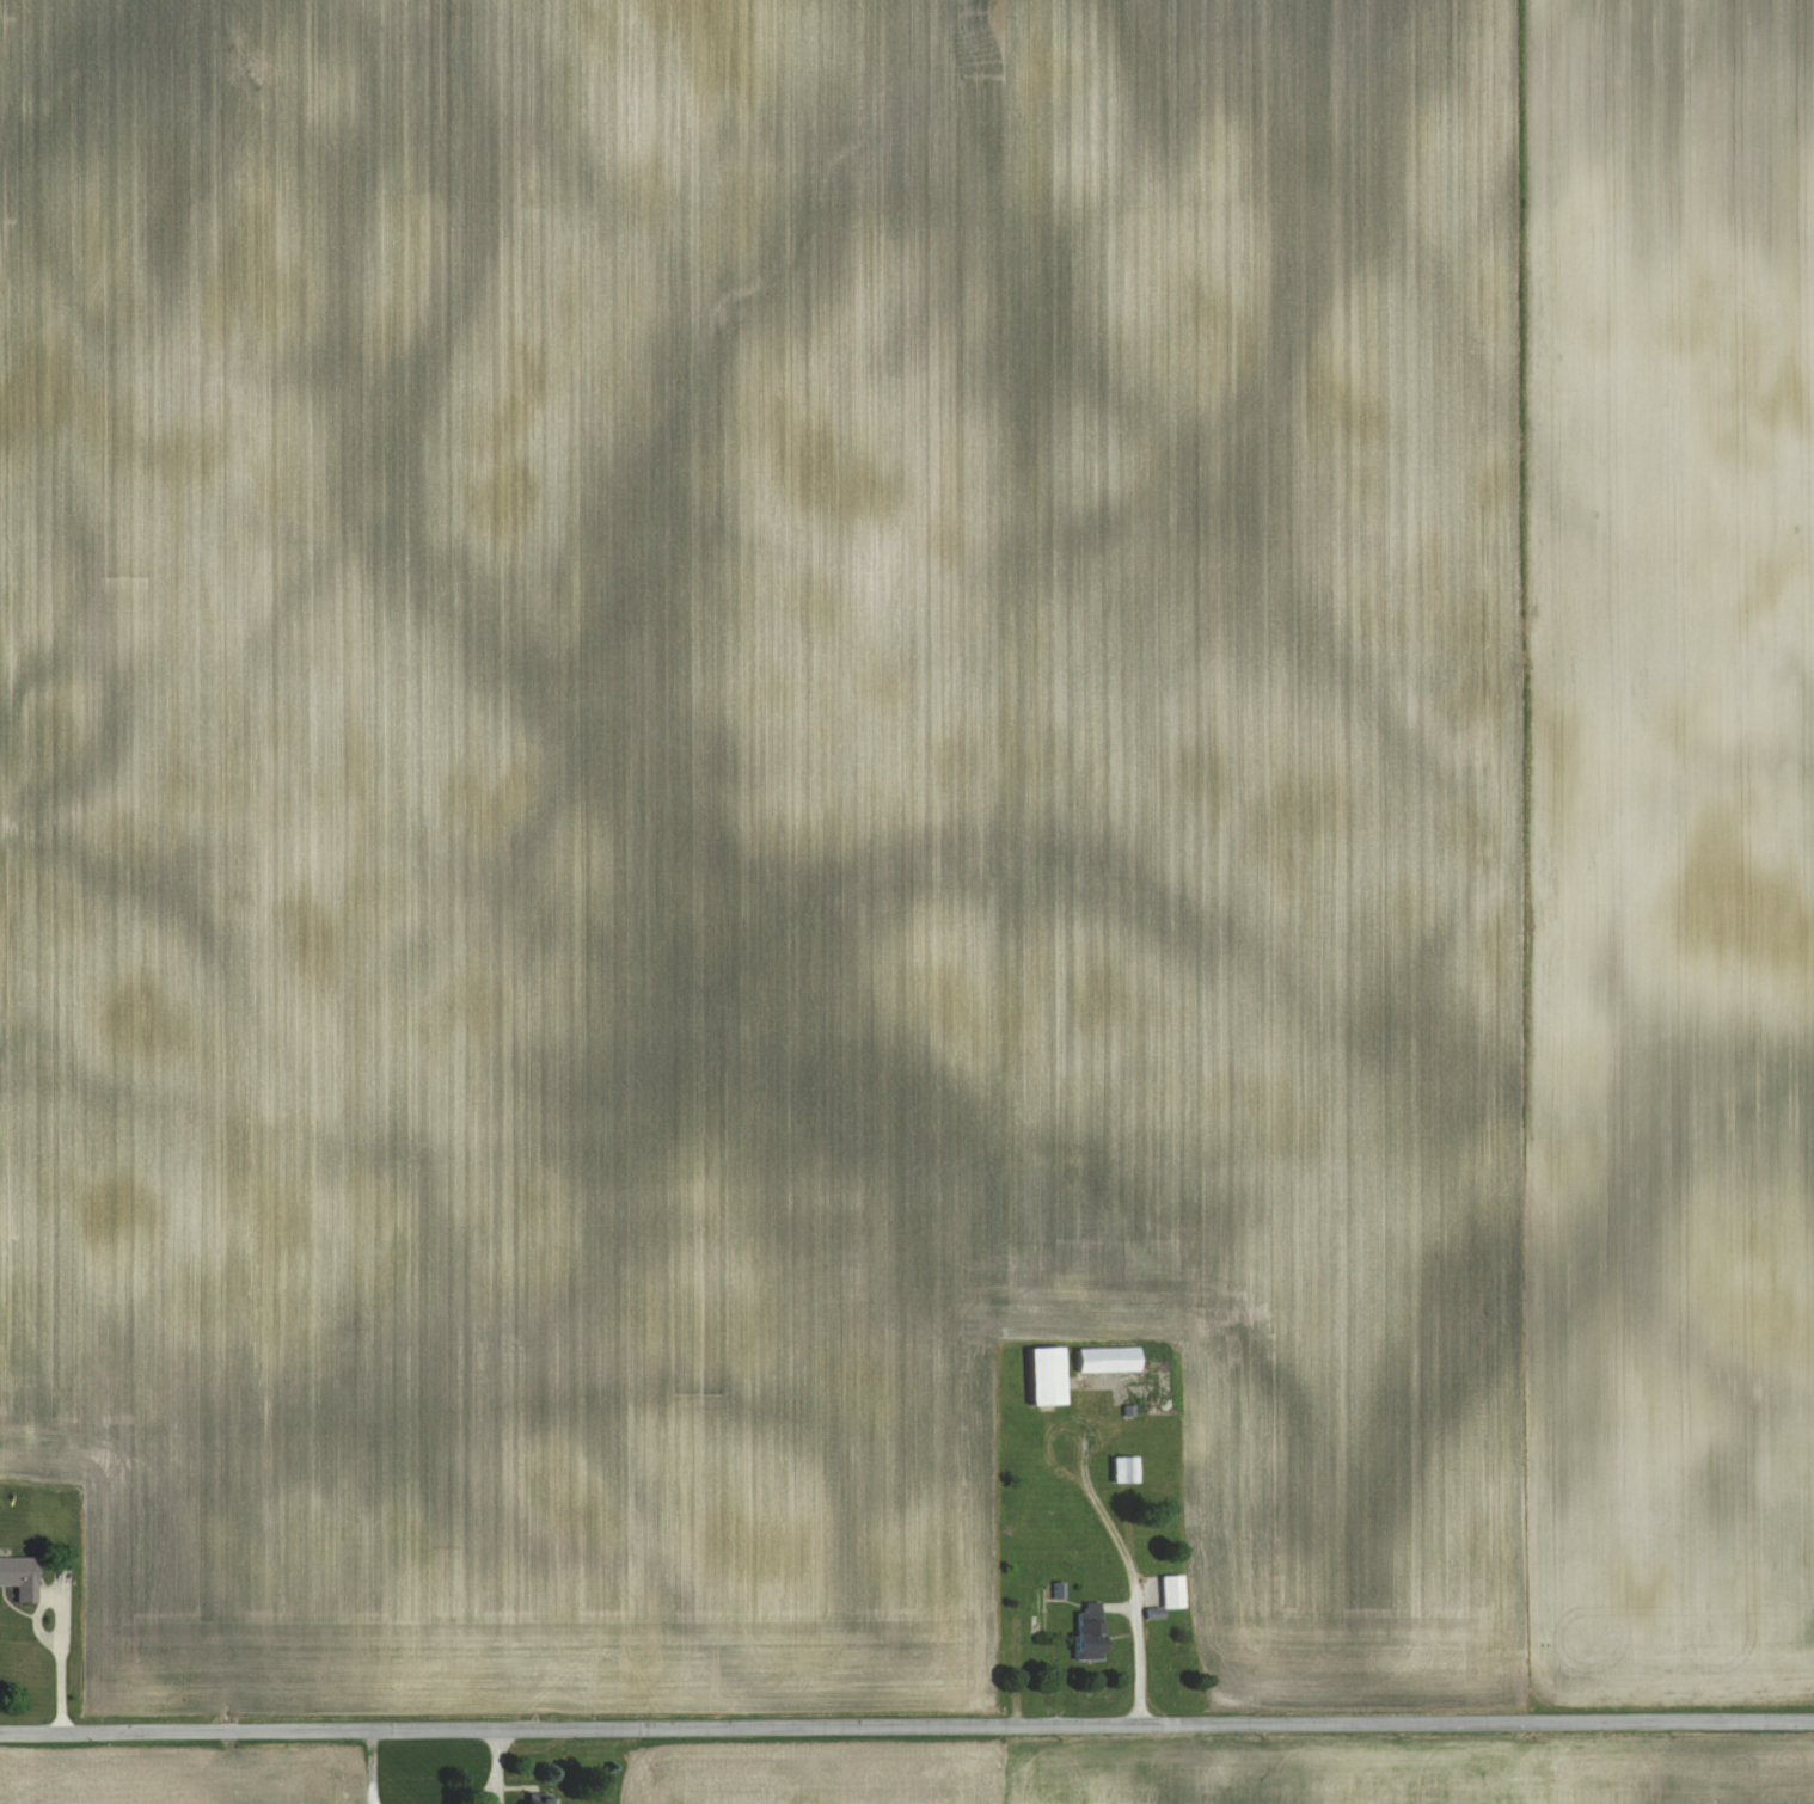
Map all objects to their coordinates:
building: (1108, 1361)
building: (1047, 1377)
building: (1124, 1469)
building: (19, 1577)
building: (1172, 1593)
road: (62, 1628)
building: (1089, 1631)
road: (1139, 1663)
road: (906, 1726)
building: (539, 1800)

